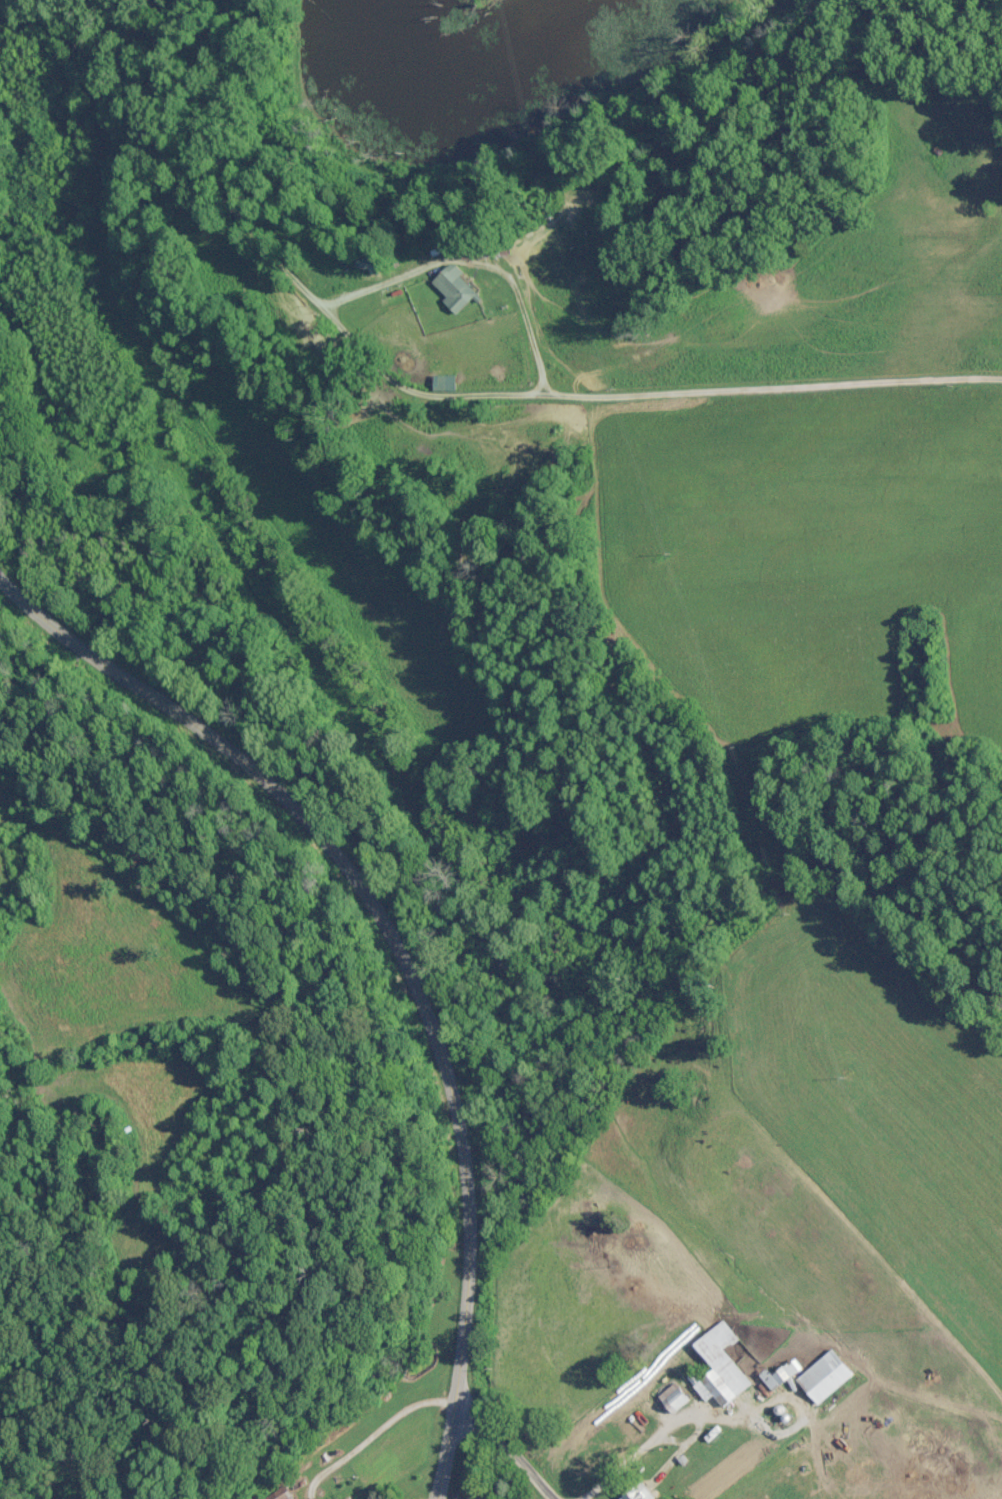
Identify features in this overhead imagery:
building: (449, 287)
road: (431, 392)
road: (398, 953)
building: (714, 1365)
building: (818, 1376)
building: (667, 1398)
road: (511, 1446)
building: (631, 1492)
building: (472, 1494)

